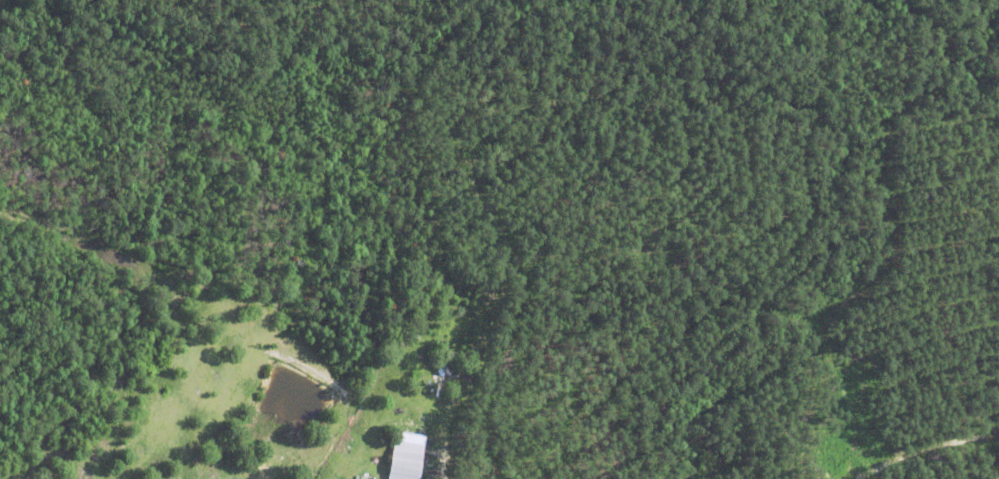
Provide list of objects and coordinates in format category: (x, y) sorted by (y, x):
building: (407, 459)

